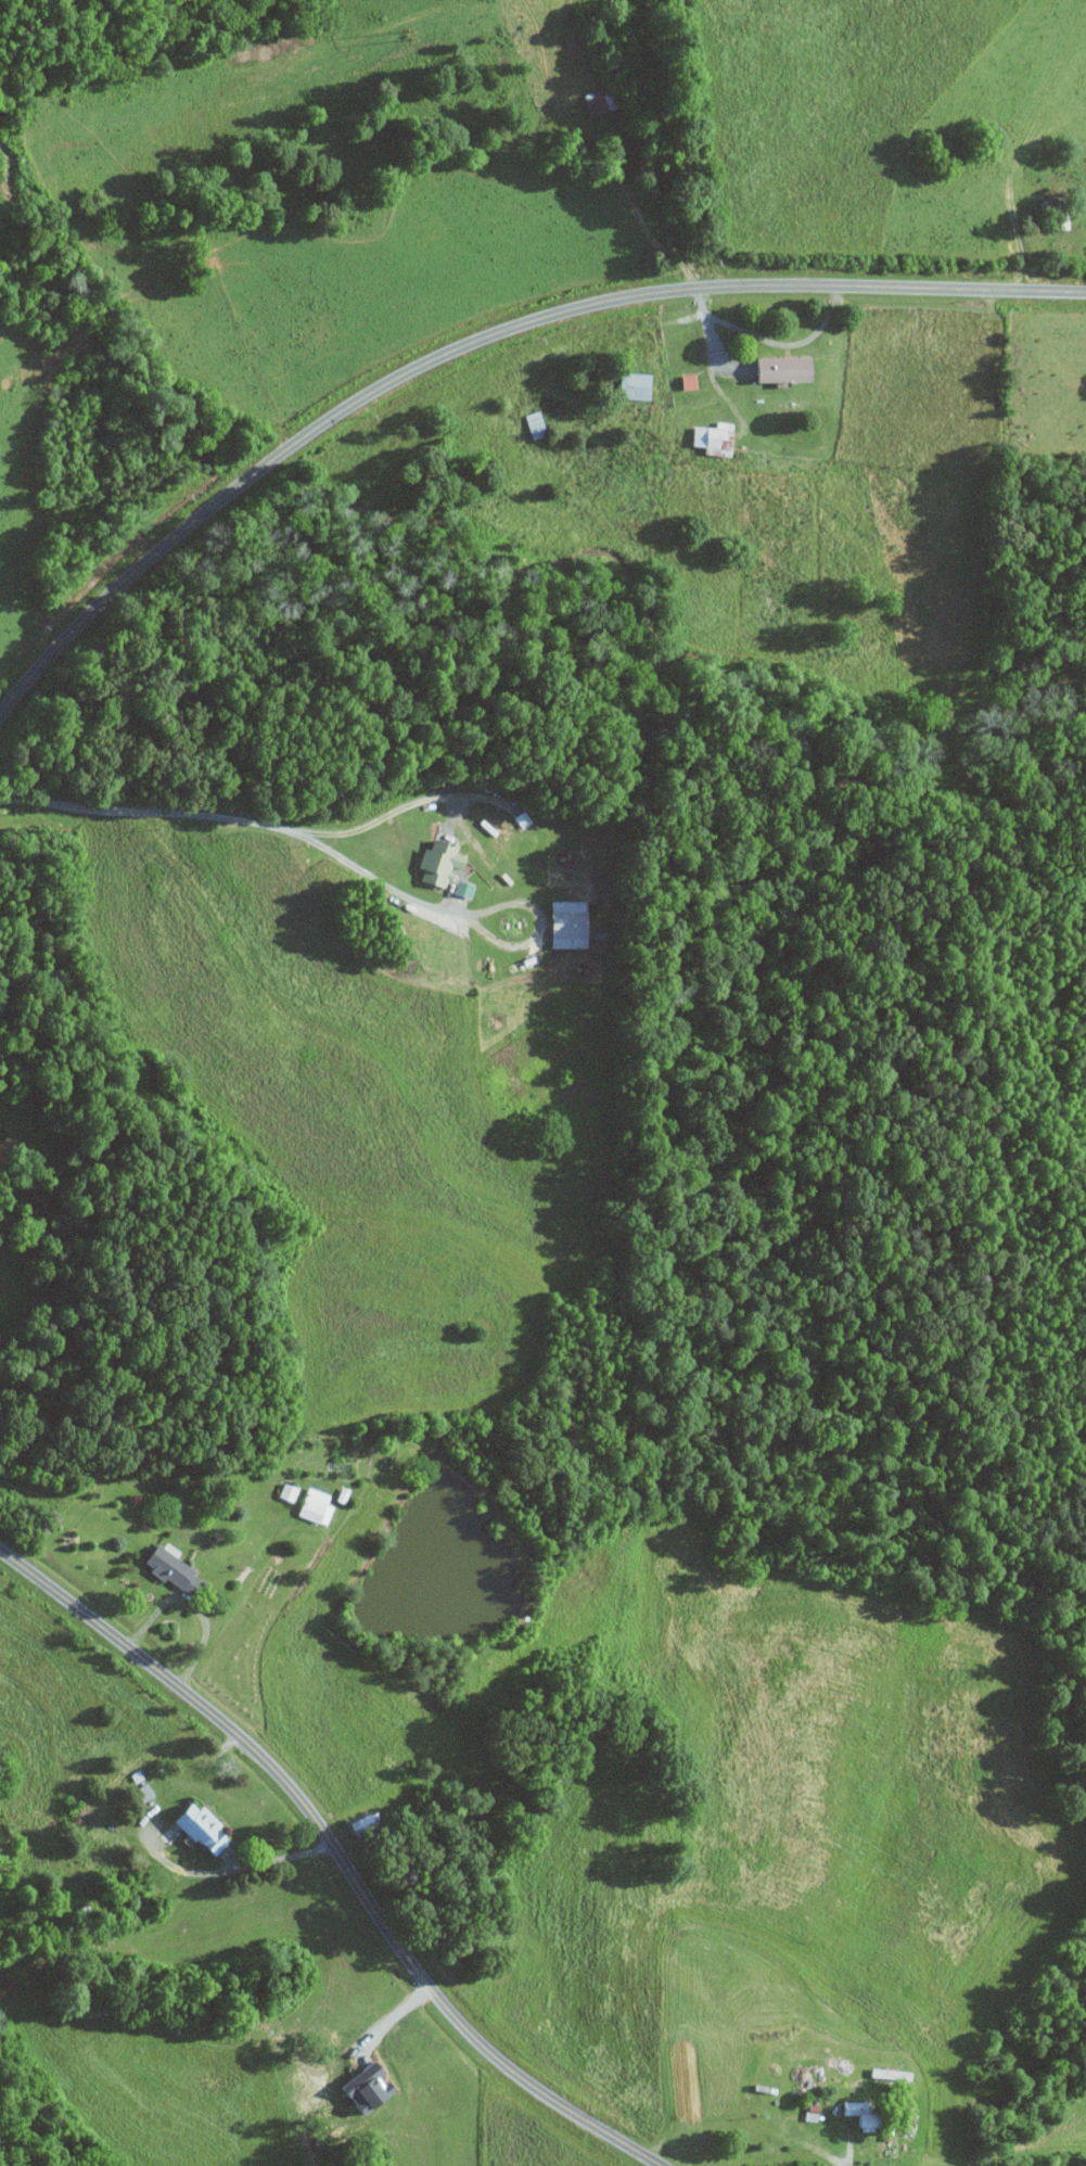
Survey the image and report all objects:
building: (603, 103)
road: (711, 332)
road: (481, 341)
road: (785, 343)
building: (789, 368)
building: (691, 381)
building: (637, 384)
building: (717, 436)
road: (387, 812)
building: (523, 819)
road: (282, 828)
building: (444, 861)
building: (464, 888)
building: (572, 923)
building: (318, 1505)
building: (176, 1569)
road: (194, 1604)
building: (206, 1826)
road: (335, 1856)
road: (227, 1866)
building: (371, 2087)
road: (851, 2141)

